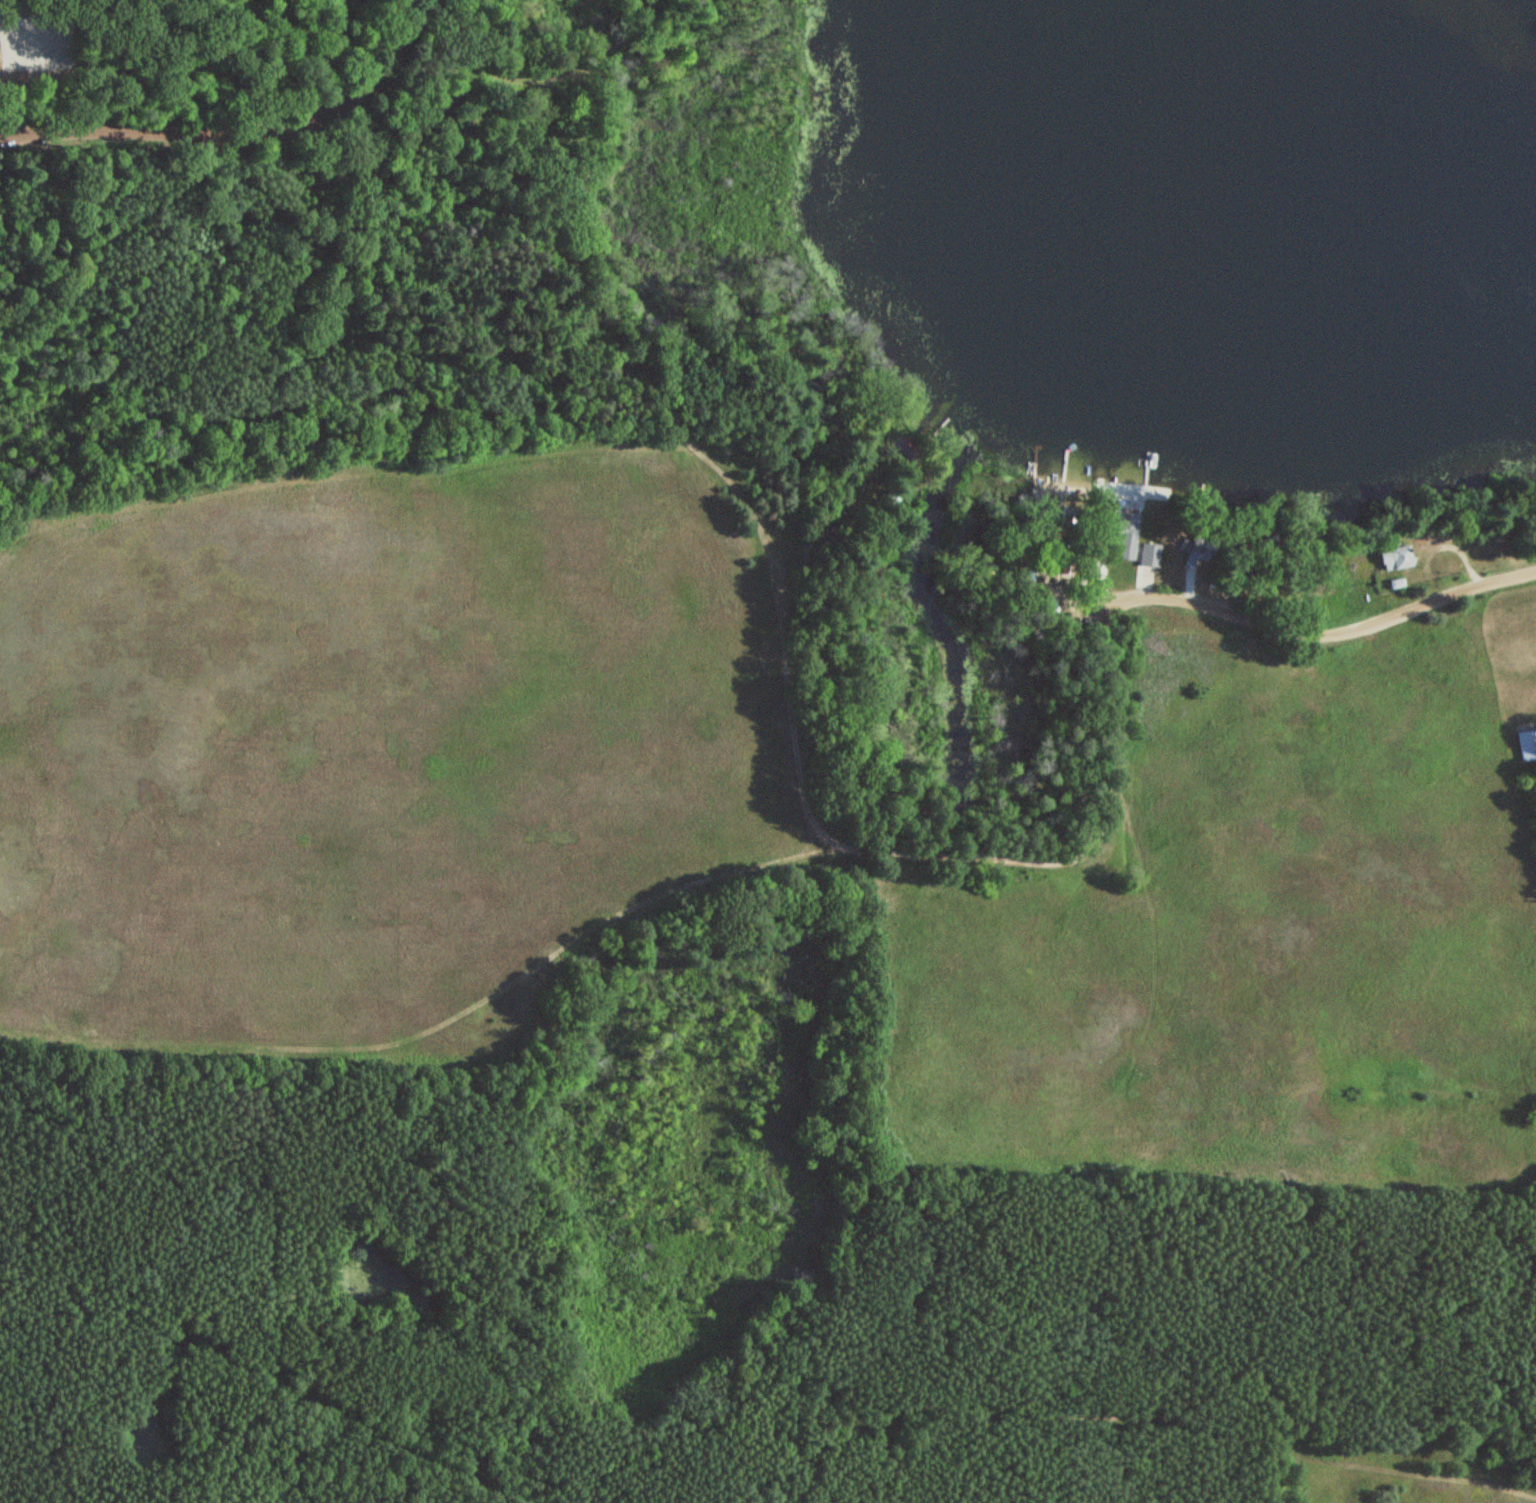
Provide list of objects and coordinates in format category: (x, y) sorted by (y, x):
road: (238, 131)
building: (902, 454)
building: (1123, 535)
building: (1189, 551)
building: (1148, 556)
building: (1394, 559)
road: (1312, 637)
building: (1528, 745)

